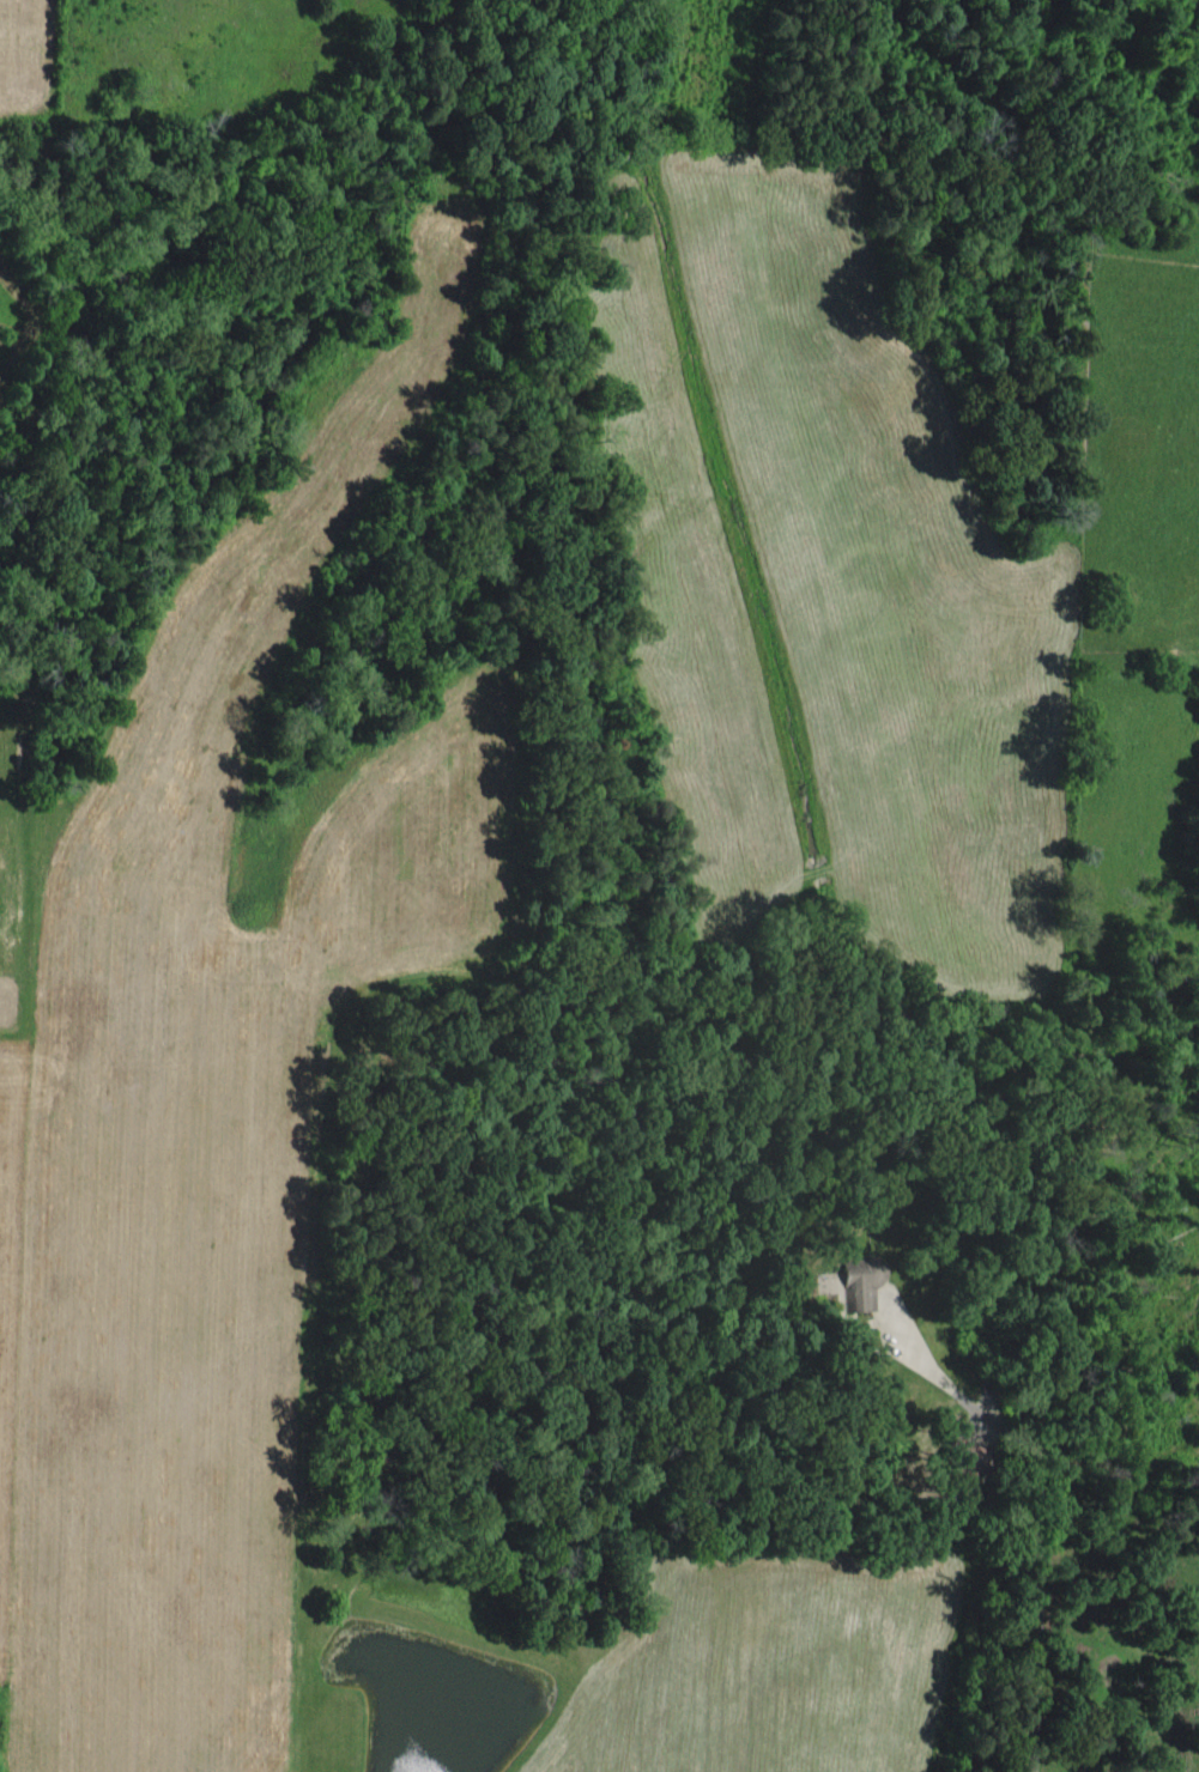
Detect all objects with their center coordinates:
building: (859, 1280)
building: (957, 1454)

